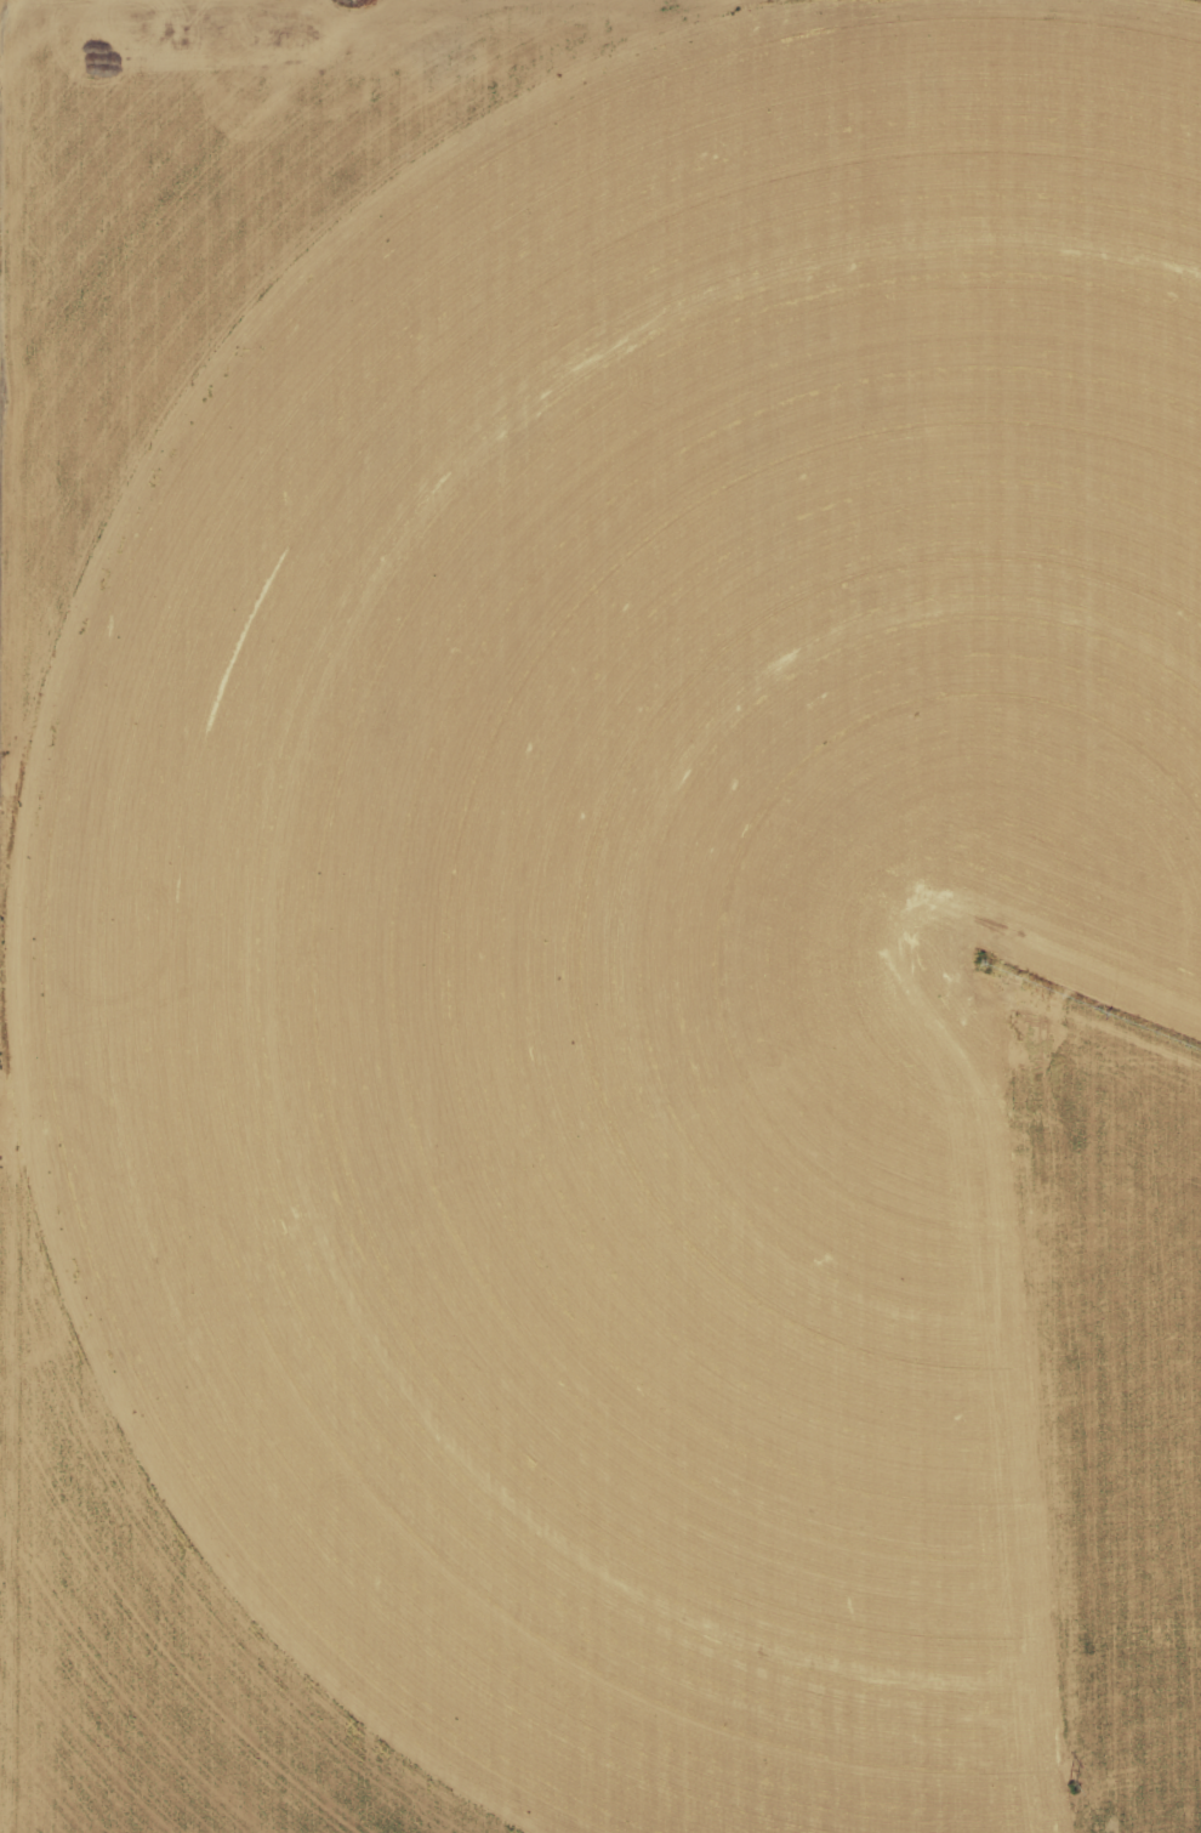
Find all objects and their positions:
power tower: (1070, 1786)

